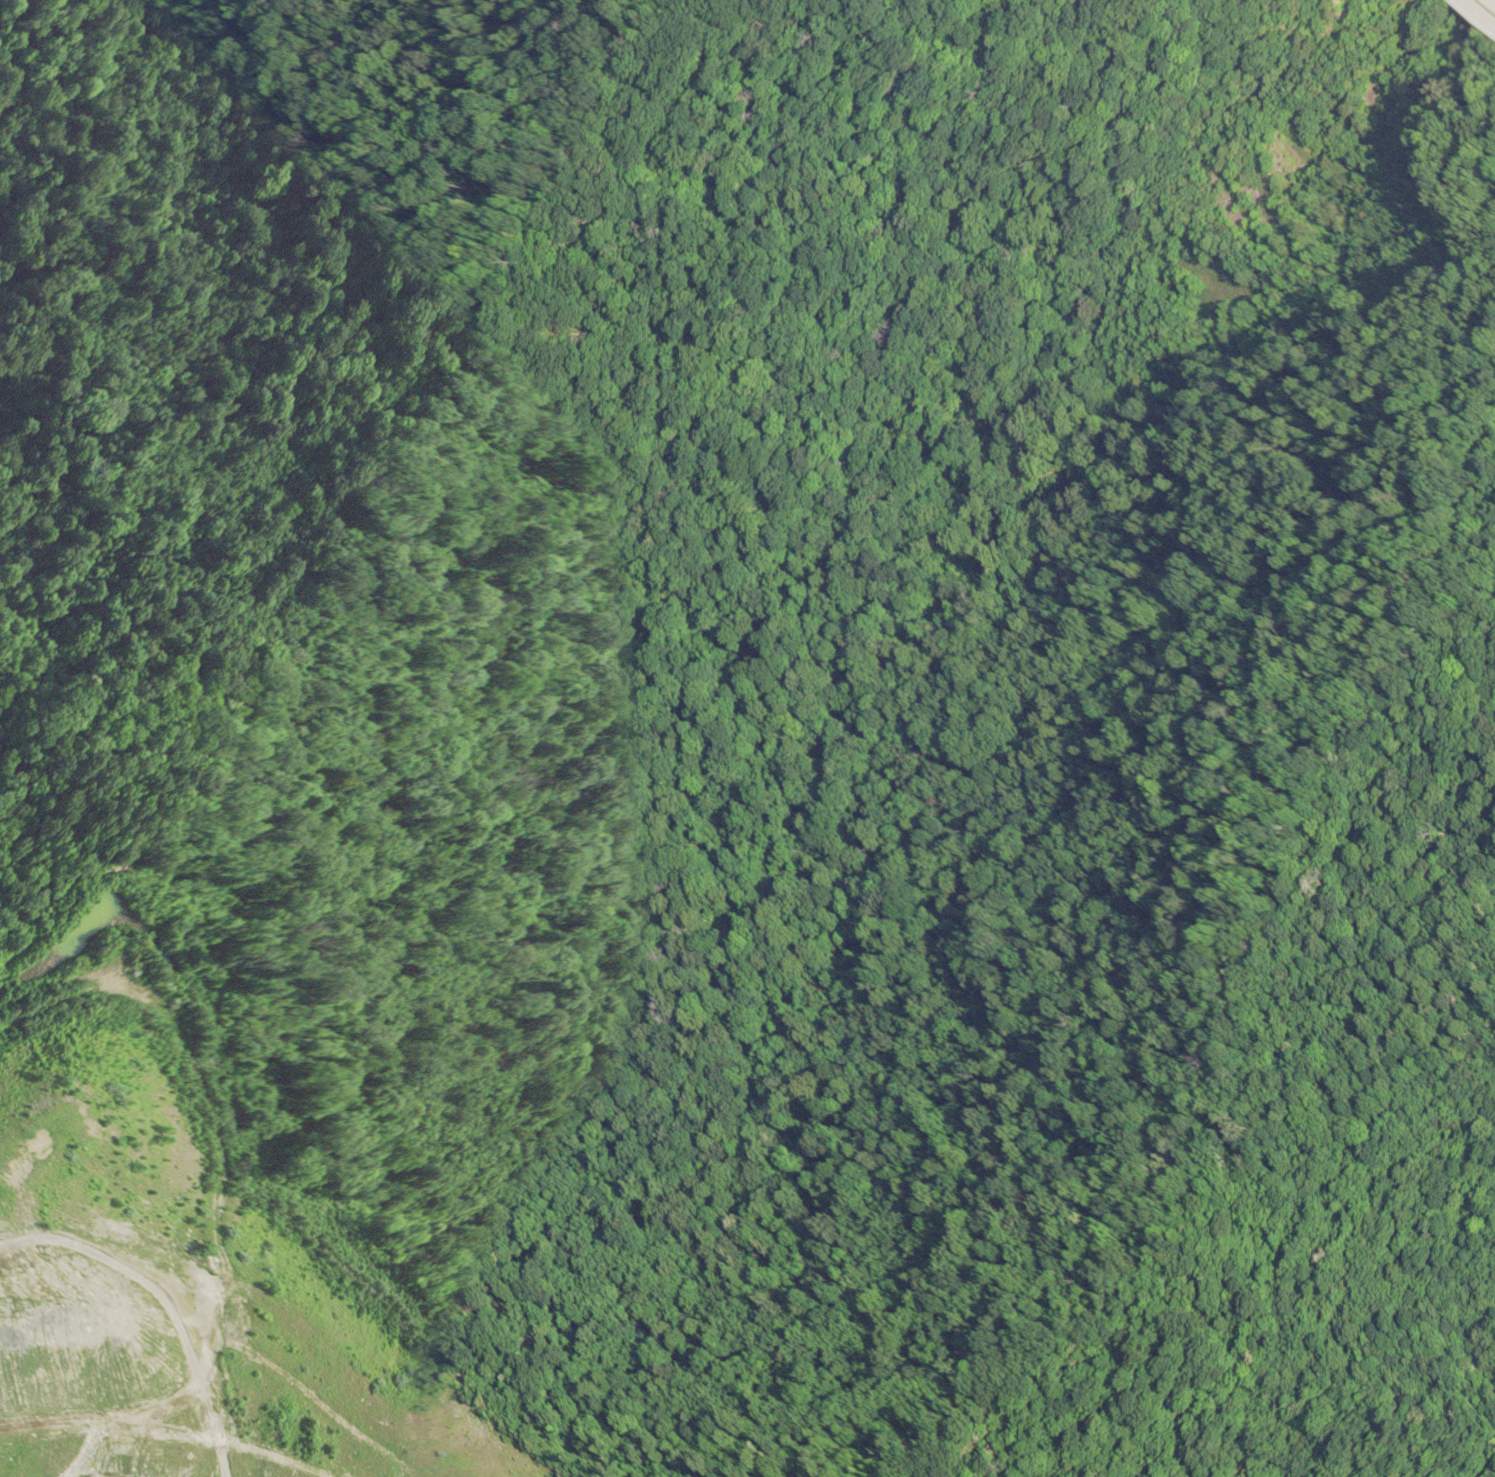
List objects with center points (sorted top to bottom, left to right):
road: (1483, 7)

